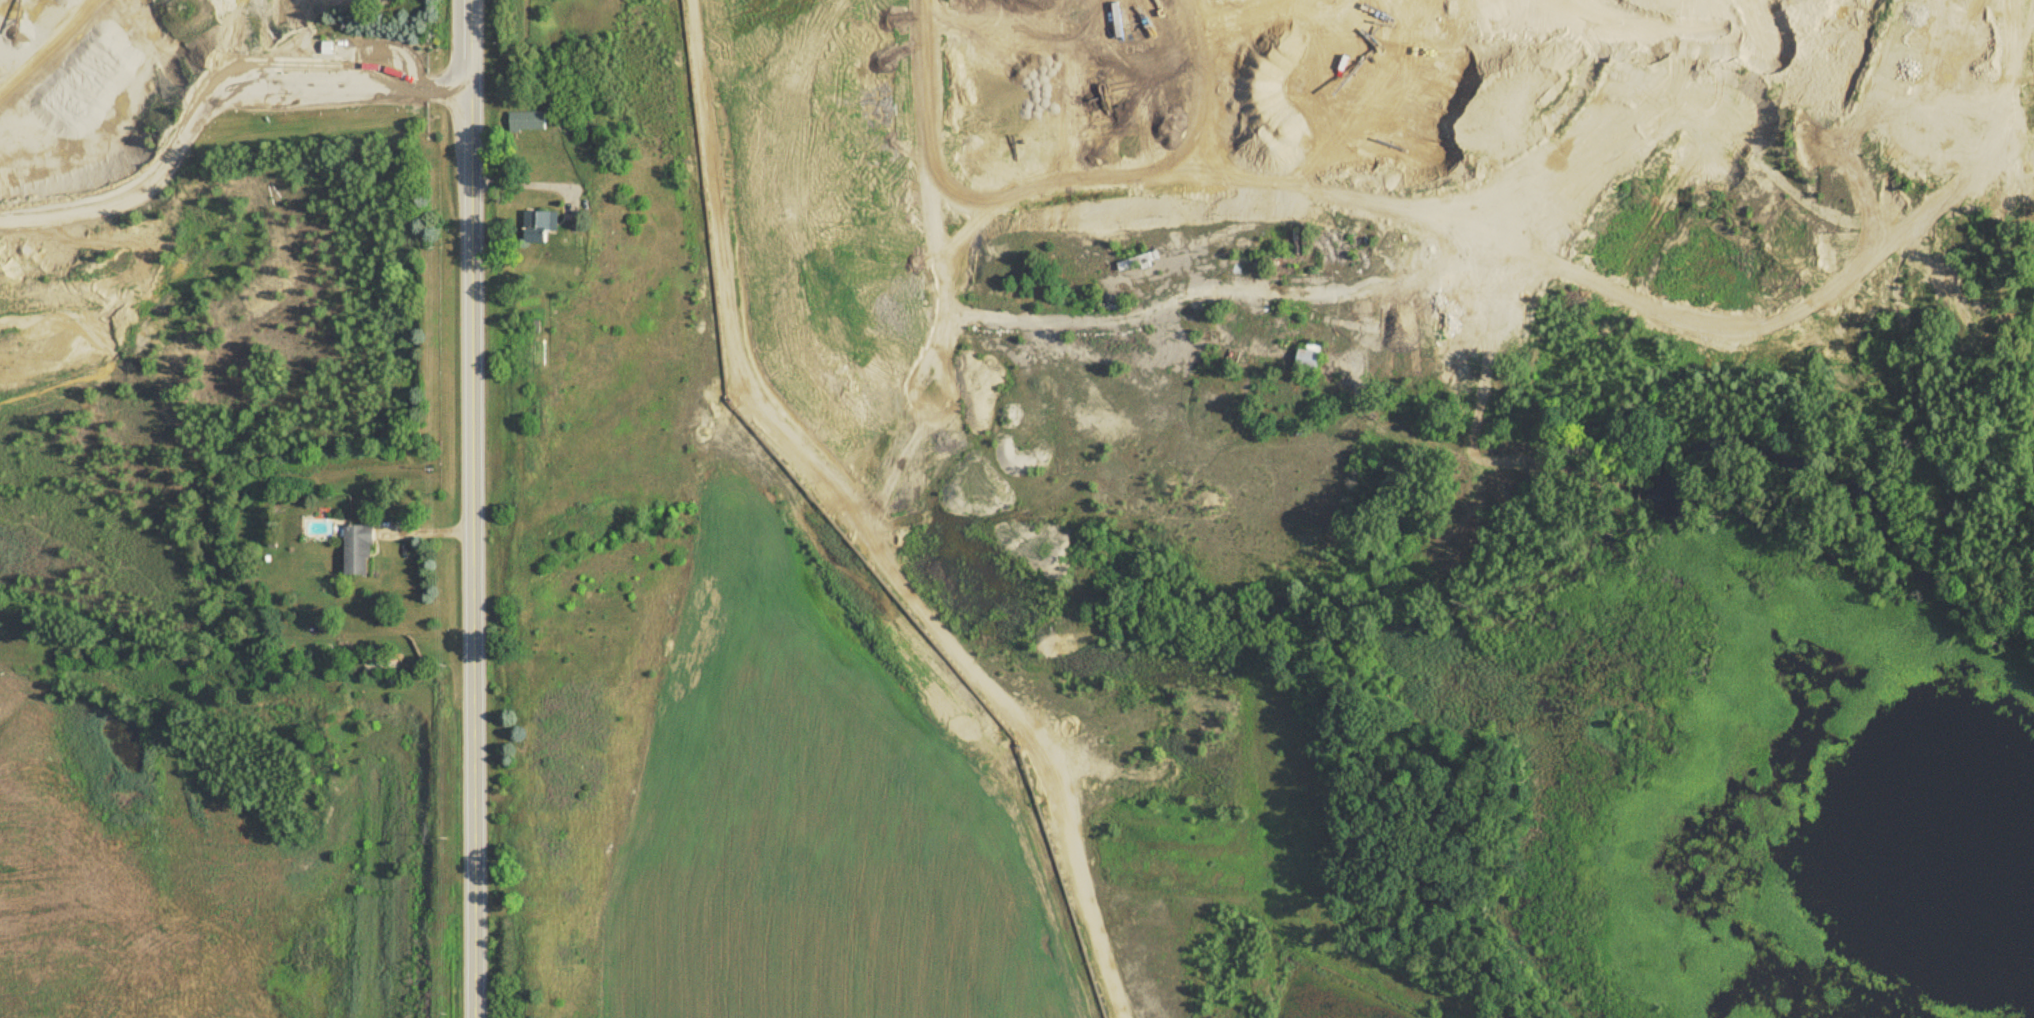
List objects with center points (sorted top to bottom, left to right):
road: (1251, 46)
road: (238, 83)
building: (528, 125)
road: (539, 176)
building: (1996, 176)
building: (540, 229)
building: (1309, 360)
road: (478, 508)
building: (358, 554)

